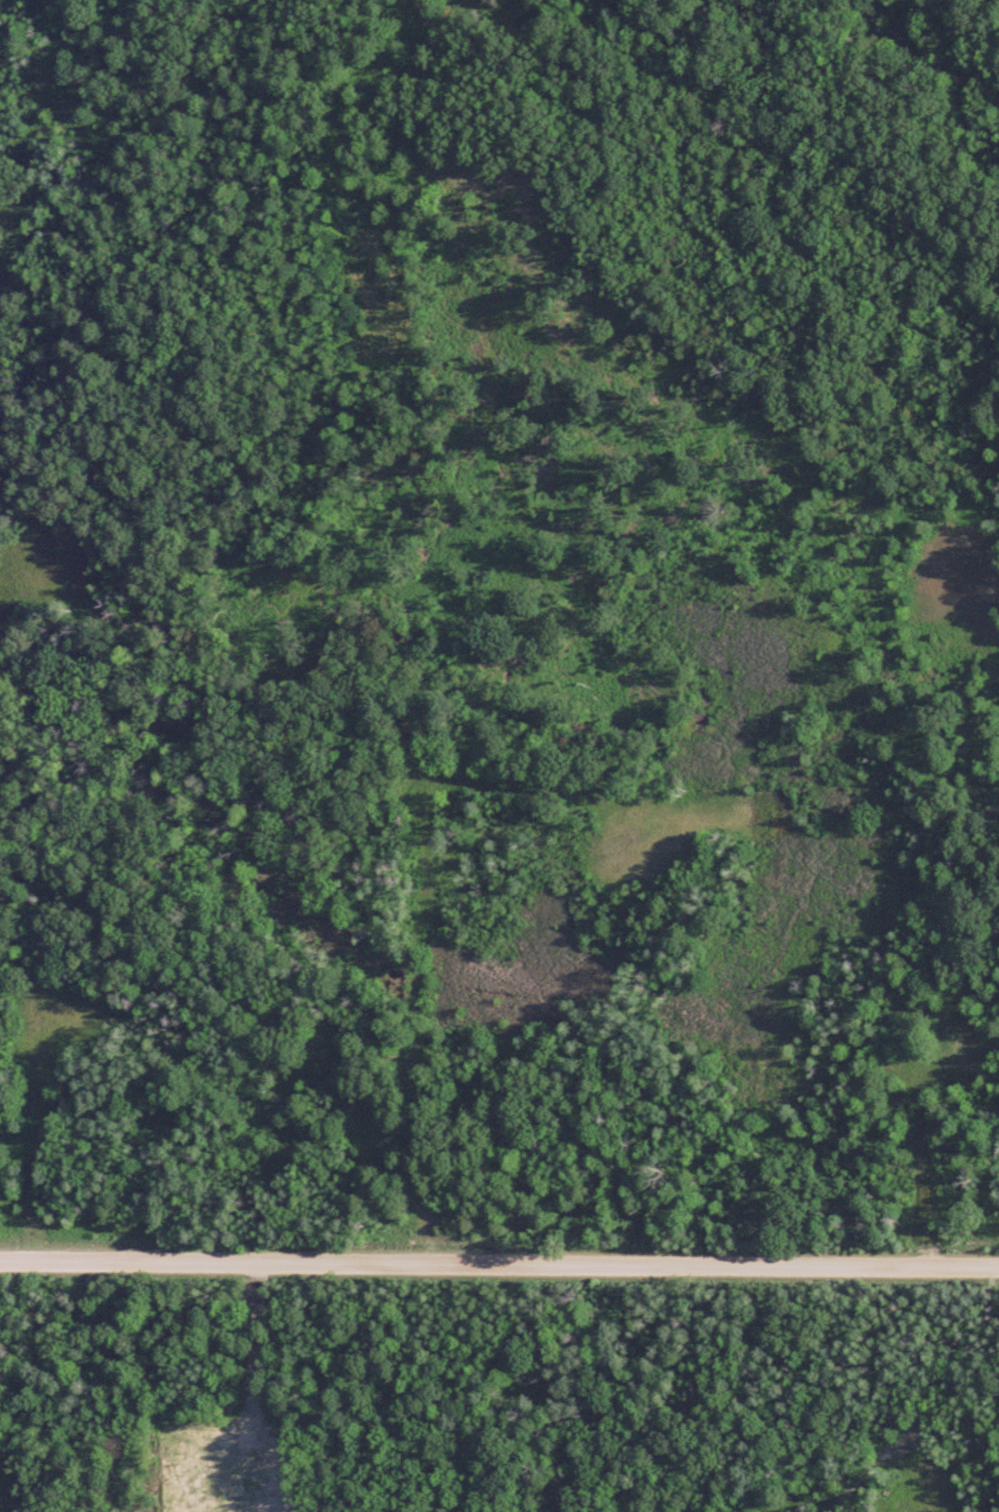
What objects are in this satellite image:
road: (924, 1174)
road: (499, 1267)

